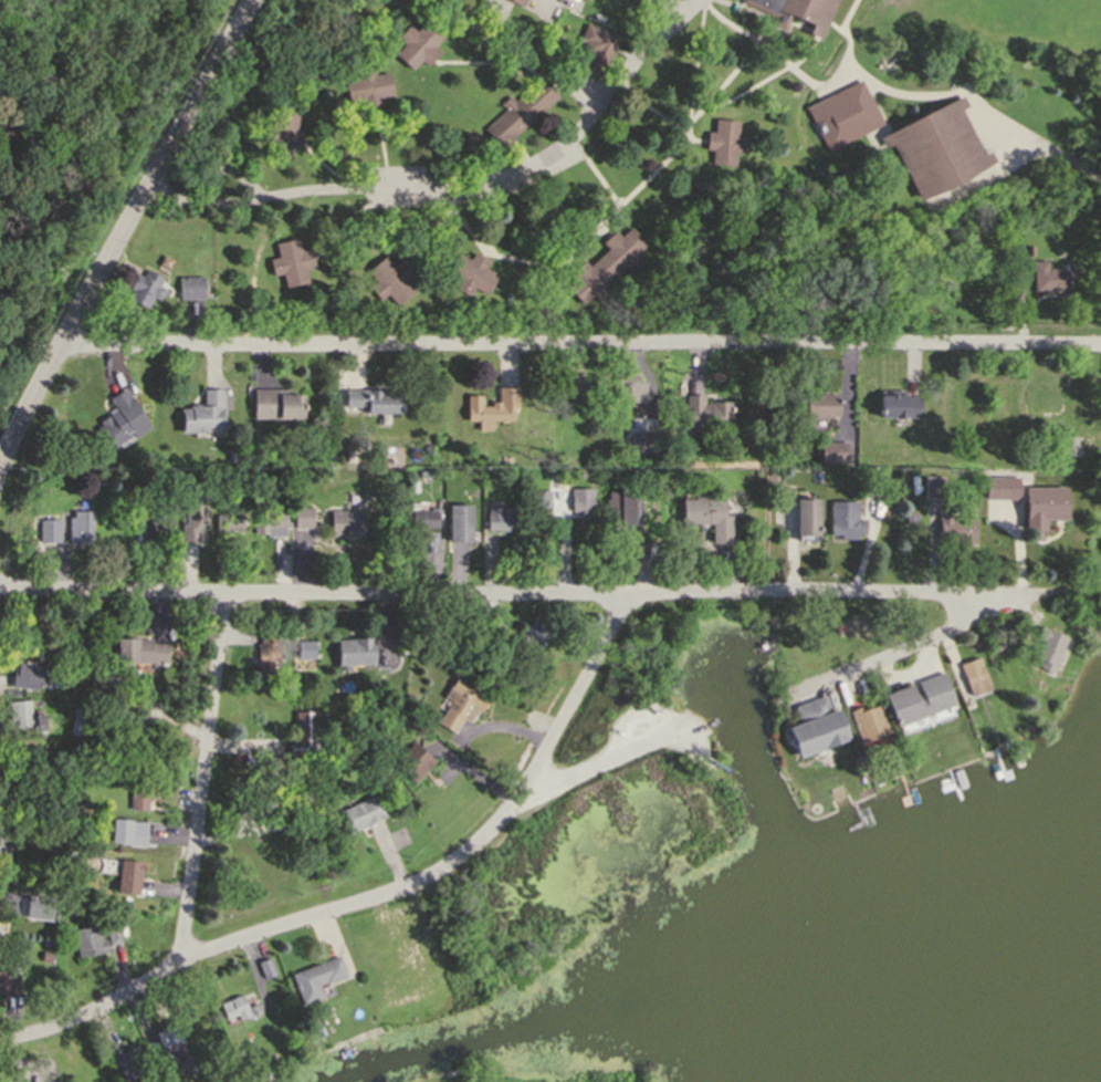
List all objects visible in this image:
building: (517, 1)
building: (794, 12)
road: (644, 28)
road: (667, 28)
building: (418, 42)
building: (595, 45)
building: (367, 85)
building: (517, 111)
building: (841, 114)
building: (280, 134)
building: (723, 141)
building: (935, 147)
road: (416, 187)
road: (126, 231)
building: (165, 260)
building: (291, 260)
building: (606, 264)
building: (470, 272)
building: (1048, 275)
building: (388, 278)
building: (143, 285)
building: (189, 285)
road: (583, 348)
building: (628, 387)
building: (574, 388)
building: (1039, 395)
building: (368, 398)
building: (275, 403)
building: (896, 404)
building: (492, 405)
building: (203, 413)
building: (705, 414)
building: (820, 416)
building: (119, 418)
building: (641, 441)
building: (364, 449)
building: (1066, 450)
building: (831, 451)
building: (232, 452)
building: (601, 457)
building: (505, 458)
building: (574, 469)
building: (423, 470)
building: (410, 485)
building: (872, 485)
building: (931, 485)
building: (999, 487)
building: (538, 499)
building: (580, 499)
building: (1041, 504)
building: (620, 507)
building: (191, 516)
building: (707, 516)
building: (806, 516)
building: (301, 517)
building: (422, 517)
building: (497, 517)
building: (908, 517)
building: (843, 519)
building: (227, 520)
building: (266, 520)
building: (344, 521)
building: (458, 521)
building: (78, 524)
building: (952, 526)
building: (48, 529)
building: (156, 529)
park: (1092, 558)
road: (1020, 575)
road: (487, 597)
building: (533, 631)
building: (975, 639)
building: (997, 639)
building: (139, 649)
building: (304, 649)
road: (904, 649)
building: (1046, 649)
building: (354, 651)
building: (264, 653)
building: (972, 672)
building: (33, 674)
building: (292, 684)
road: (575, 694)
building: (917, 698)
building: (459, 703)
building: (135, 709)
building: (25, 715)
building: (75, 720)
building: (869, 721)
building: (815, 726)
building: (303, 732)
building: (411, 761)
building: (270, 764)
road: (202, 776)
building: (94, 781)
building: (139, 797)
building: (297, 801)
building: (360, 813)
building: (303, 819)
building: (127, 831)
building: (2, 842)
building: (128, 877)
road: (344, 902)
building: (40, 908)
building: (114, 935)
building: (88, 940)
building: (44, 955)
building: (265, 966)
building: (314, 977)
building: (9, 978)
building: (237, 1007)
building: (168, 1050)
building: (126, 1060)
building: (208, 1071)

